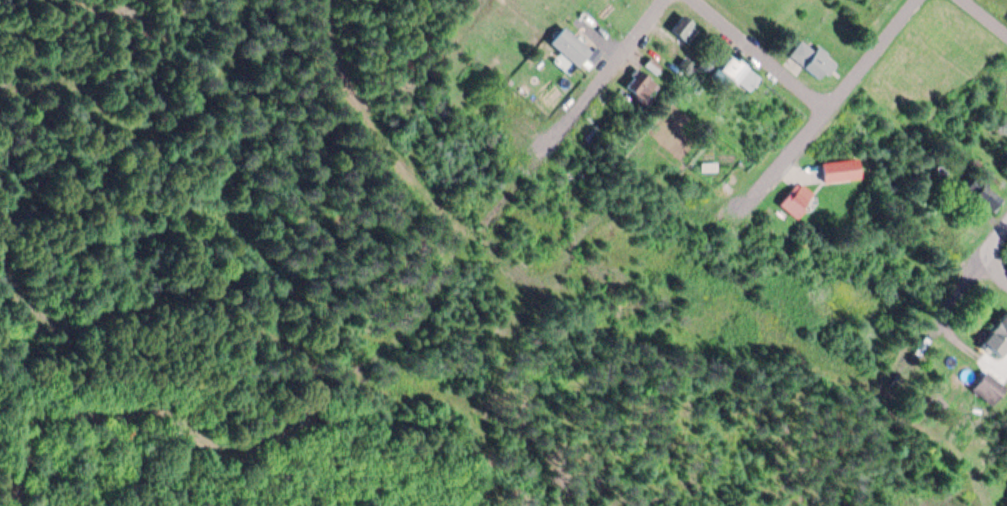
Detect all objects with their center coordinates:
road: (992, 12)
building: (685, 30)
road: (462, 41)
building: (568, 46)
road: (770, 49)
building: (811, 60)
building: (737, 73)
building: (643, 88)
road: (837, 95)
road: (569, 111)
road: (428, 127)
building: (840, 170)
building: (981, 194)
building: (795, 199)
road: (1001, 234)
road: (1002, 257)
road: (619, 319)
building: (997, 334)
road: (399, 371)
building: (987, 387)

